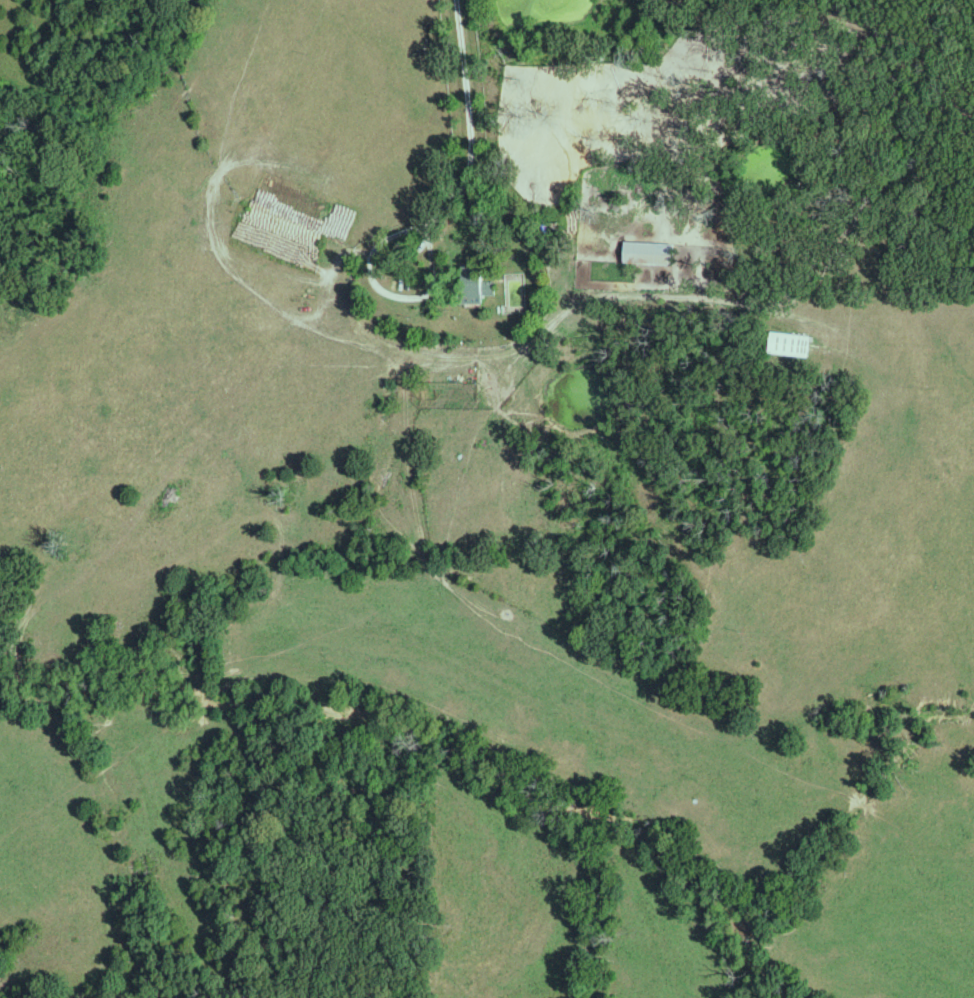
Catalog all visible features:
road: (470, 167)
building: (650, 252)
building: (473, 286)
building: (792, 343)

